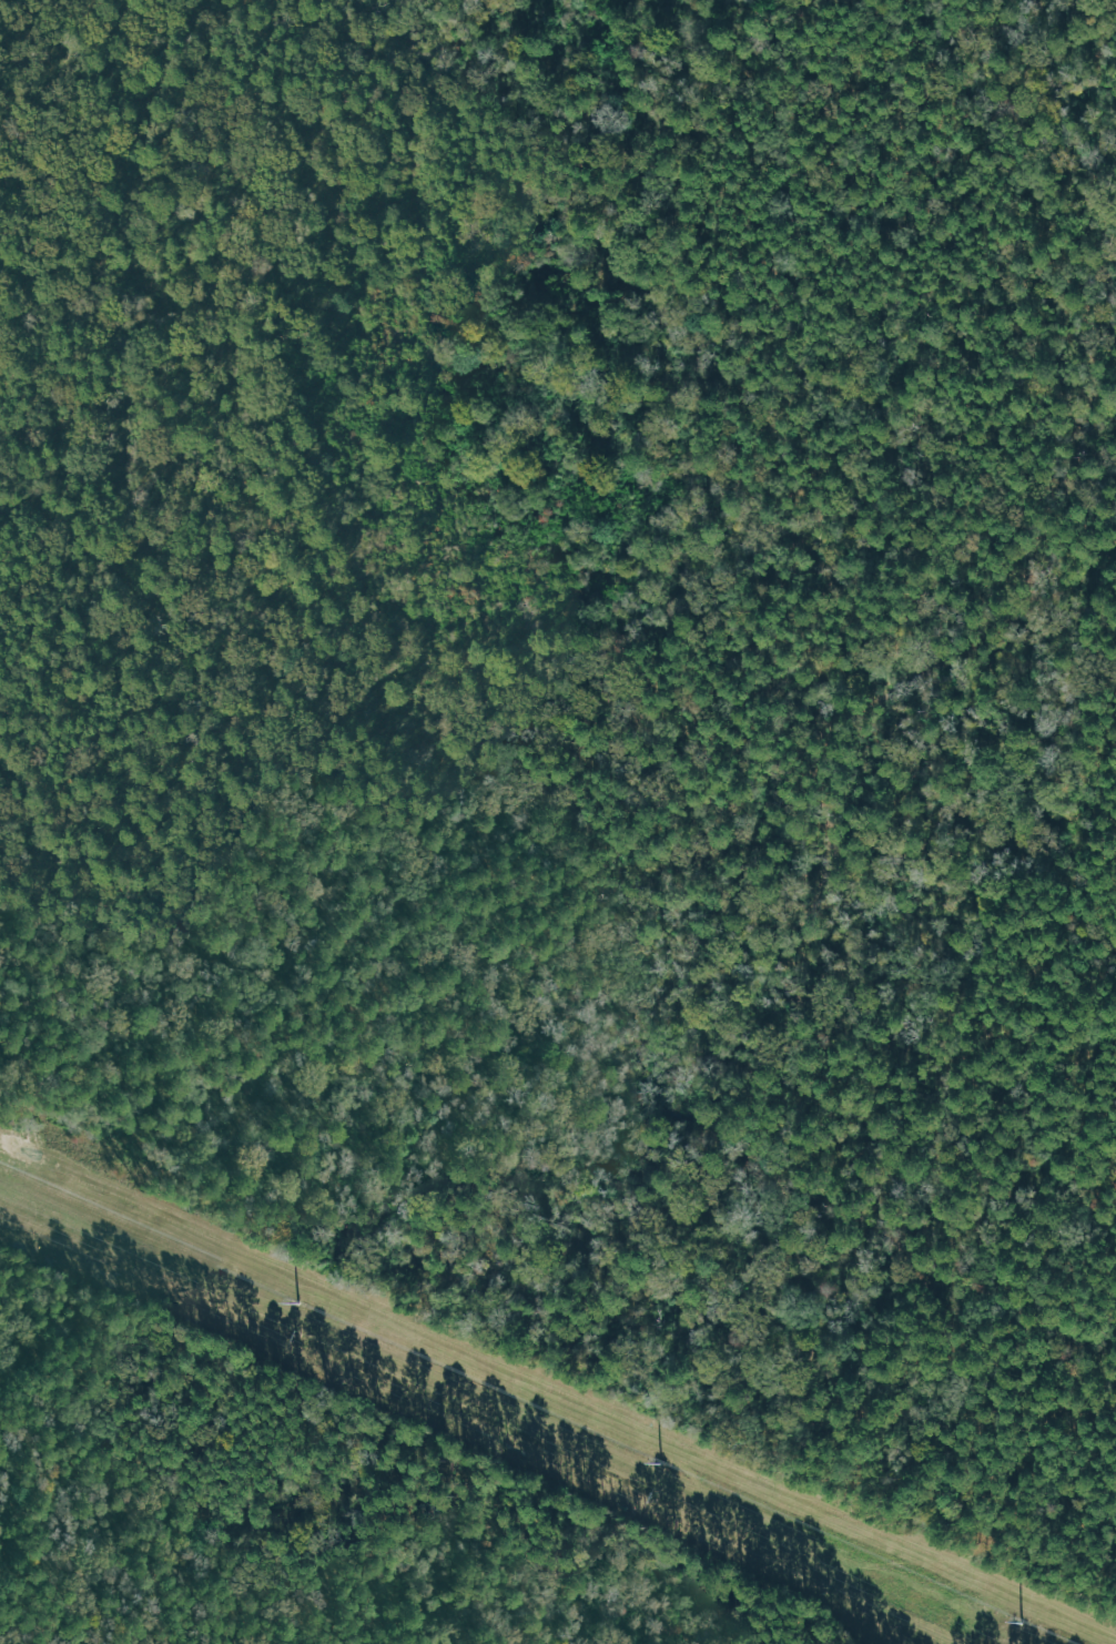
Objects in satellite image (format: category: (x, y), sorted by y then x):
power tower: (296, 1336)
power tower: (652, 1494)

